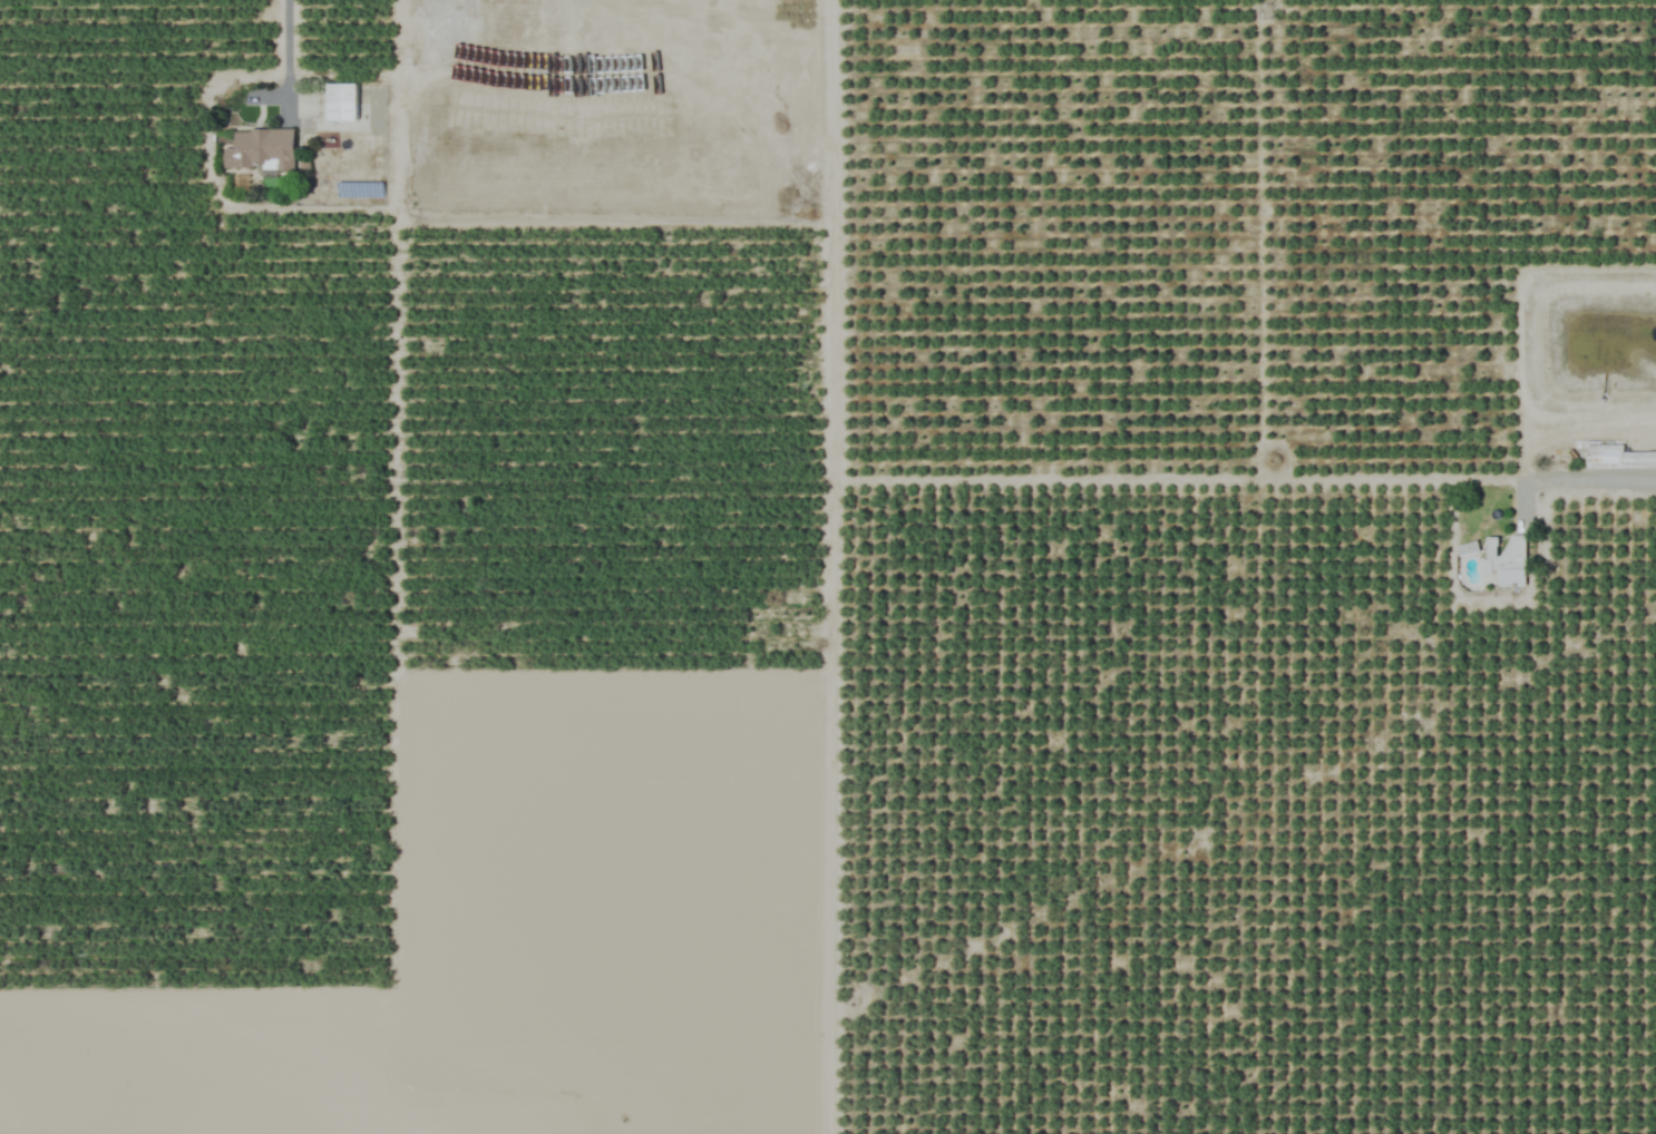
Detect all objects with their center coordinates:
road: (284, 60)
building: (341, 102)
building: (260, 150)
building: (1617, 458)
road: (1589, 483)
building: (1504, 559)

